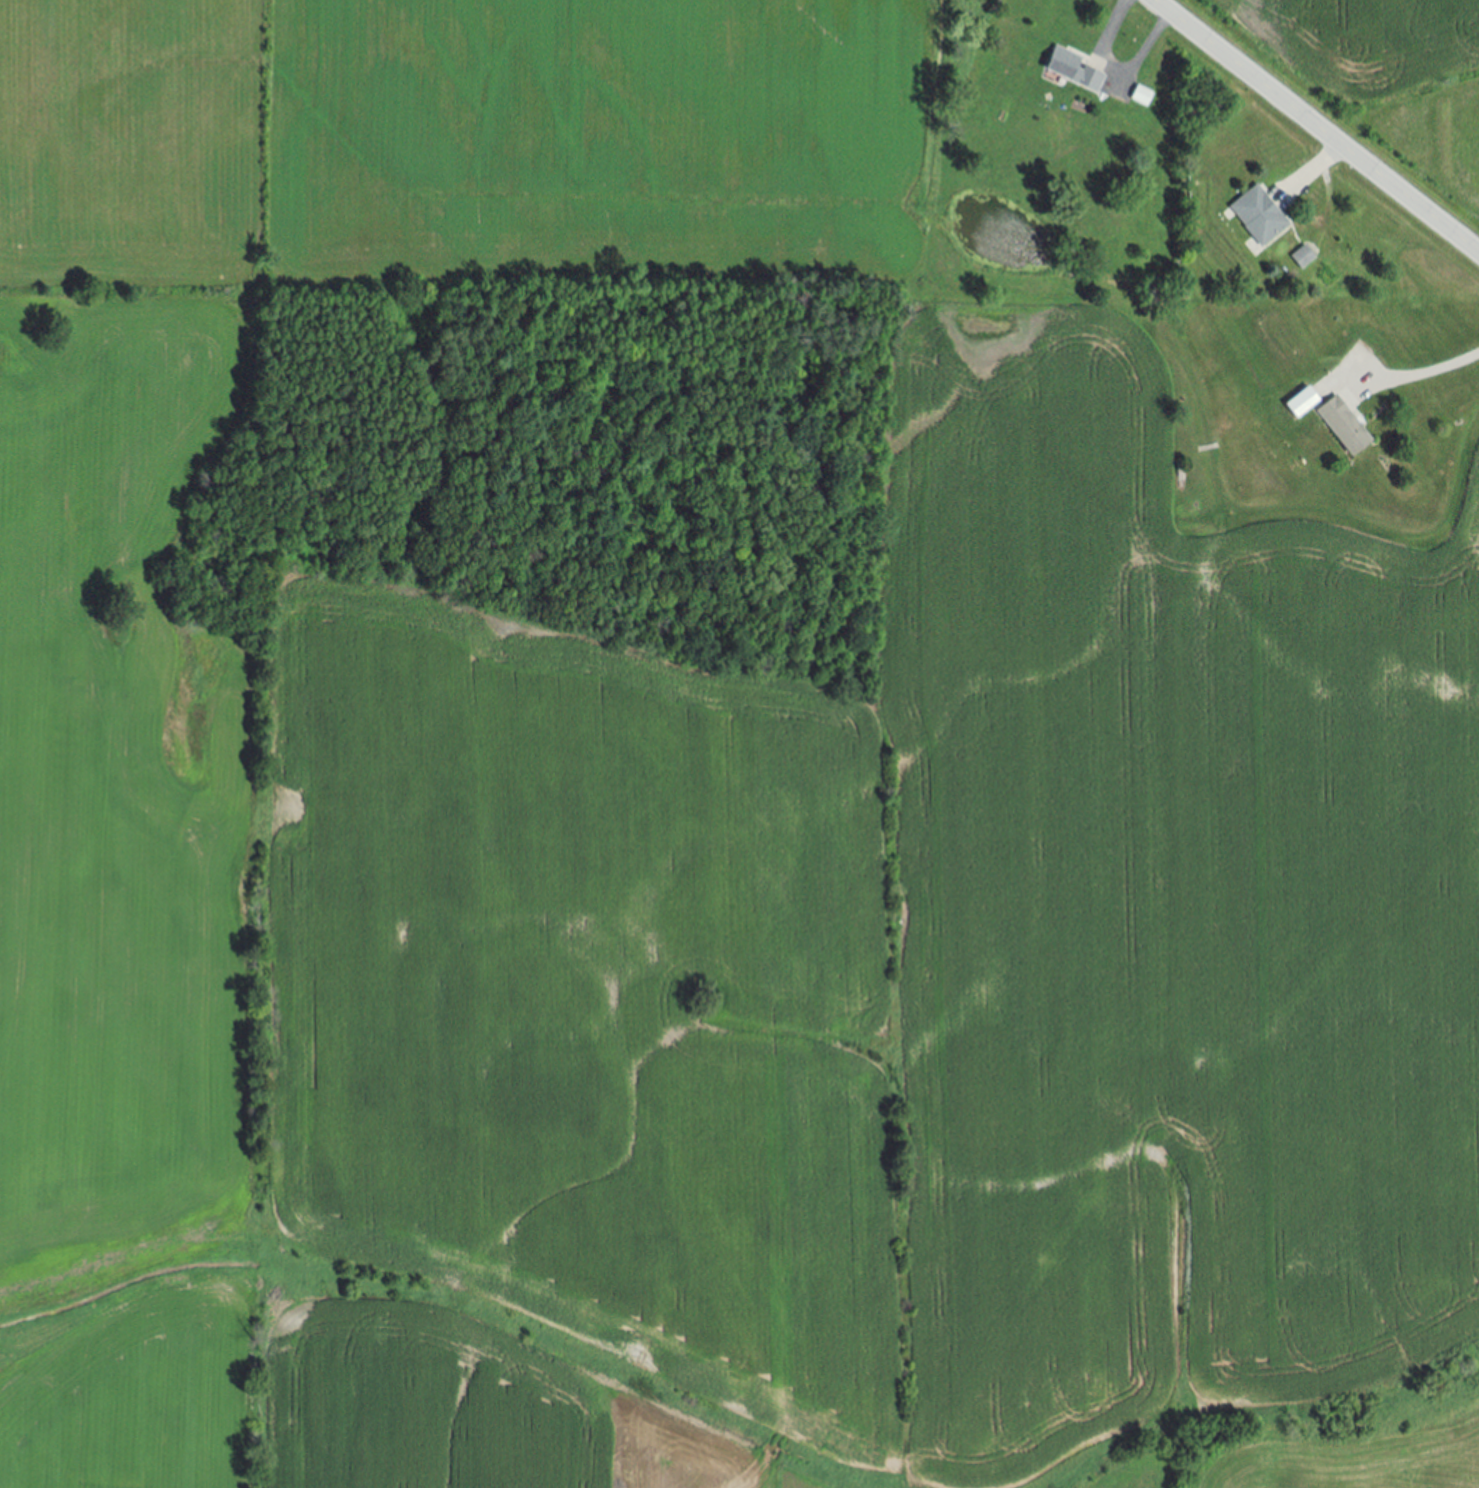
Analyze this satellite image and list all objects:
building: (1077, 68)
road: (1117, 72)
building: (1142, 97)
road: (1316, 126)
road: (1314, 167)
building: (1260, 217)
building: (1304, 258)
road: (1419, 376)
building: (1304, 404)
building: (1347, 427)

